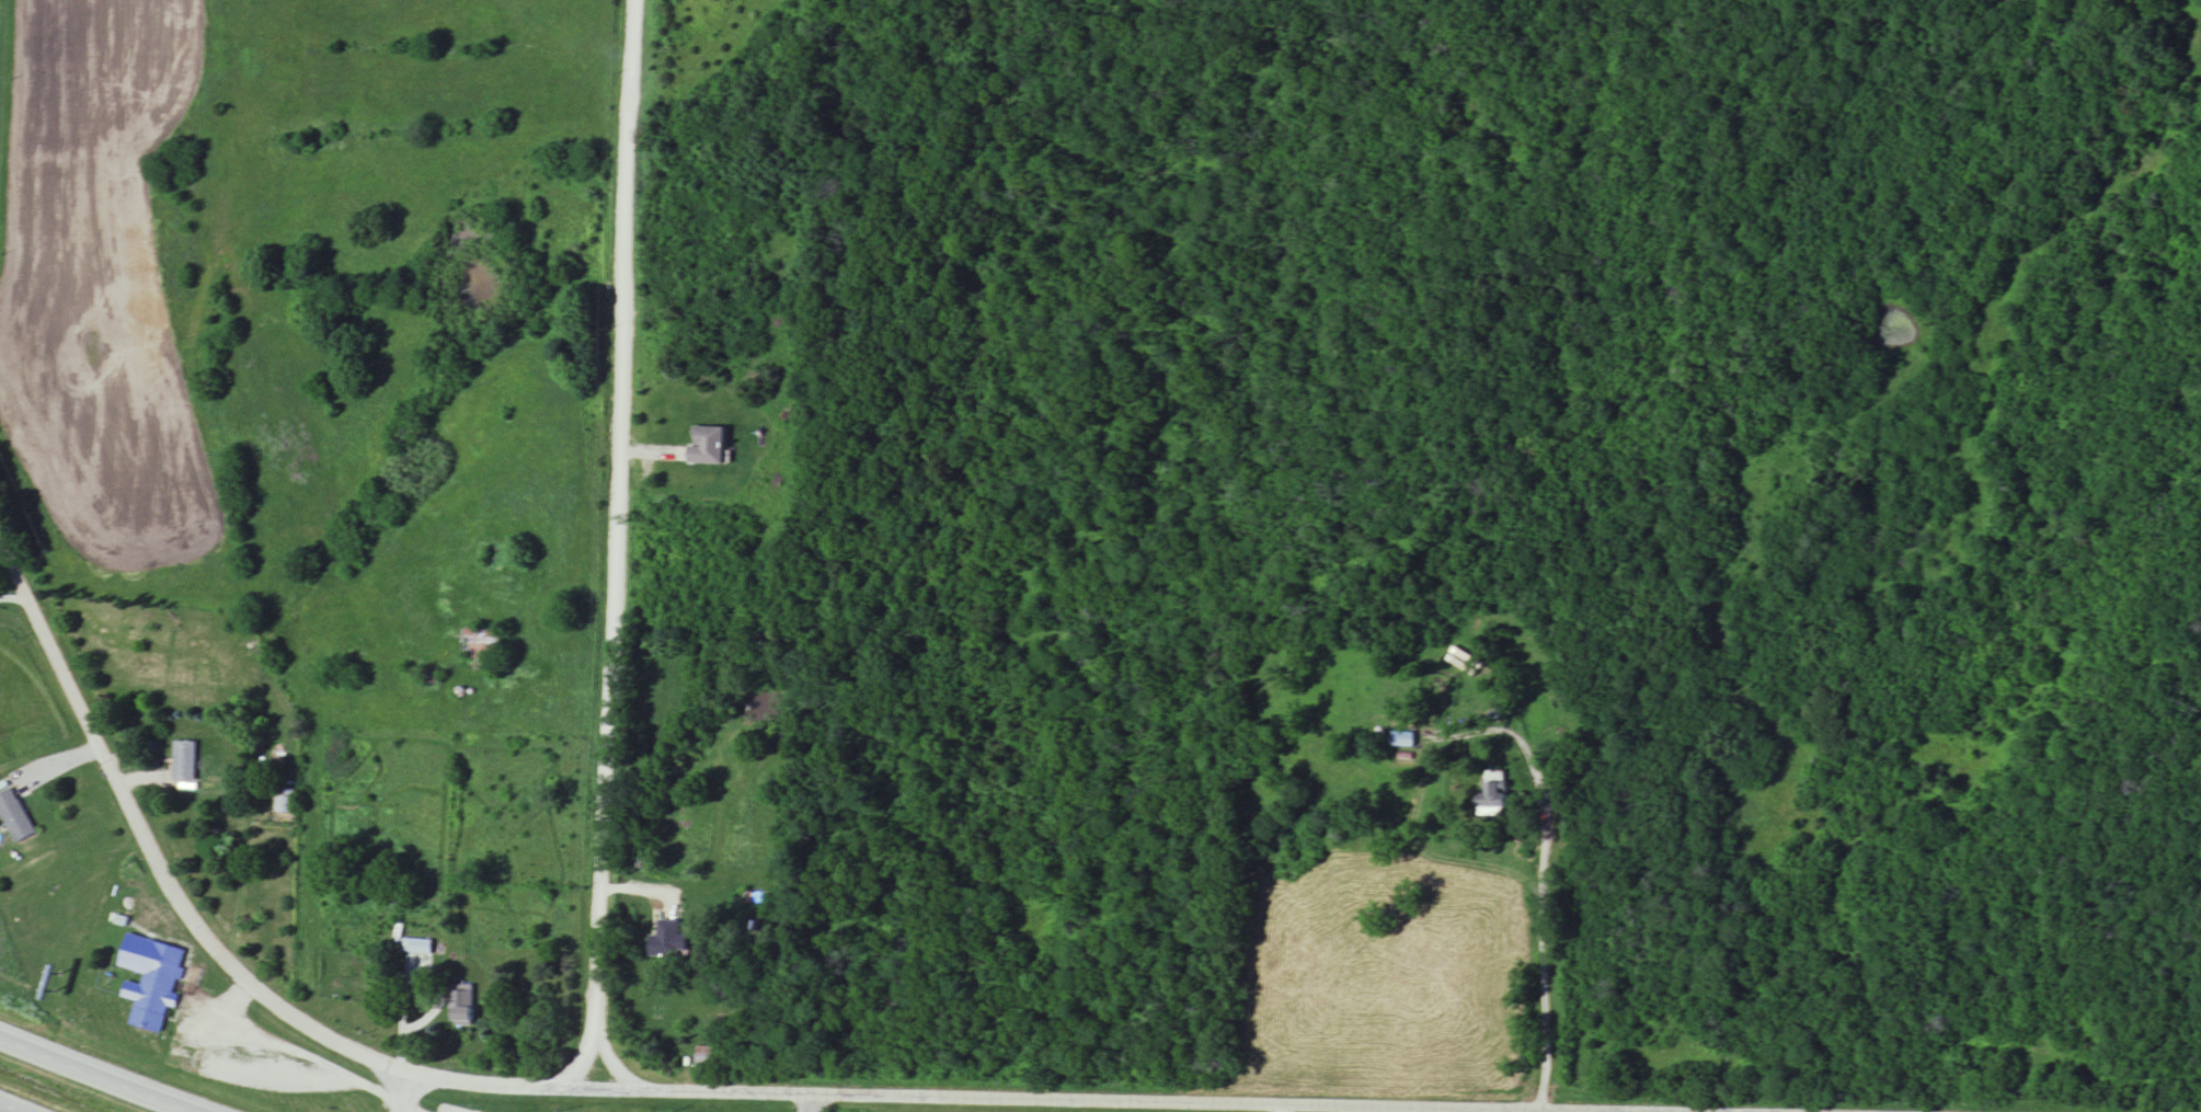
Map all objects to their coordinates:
road: (0, 25)
park: (1501, 300)
road: (611, 521)
road: (13, 600)
building: (481, 644)
building: (1402, 741)
building: (184, 763)
building: (1493, 794)
building: (285, 802)
building: (14, 817)
building: (669, 941)
building: (423, 948)
road: (1540, 949)
building: (150, 990)
building: (462, 1006)
road: (289, 1053)
building: (707, 1059)
road: (610, 1068)
road: (583, 1069)
road: (105, 1073)
road: (406, 1092)
road: (675, 1094)
road: (811, 1103)
road: (11, 1108)

